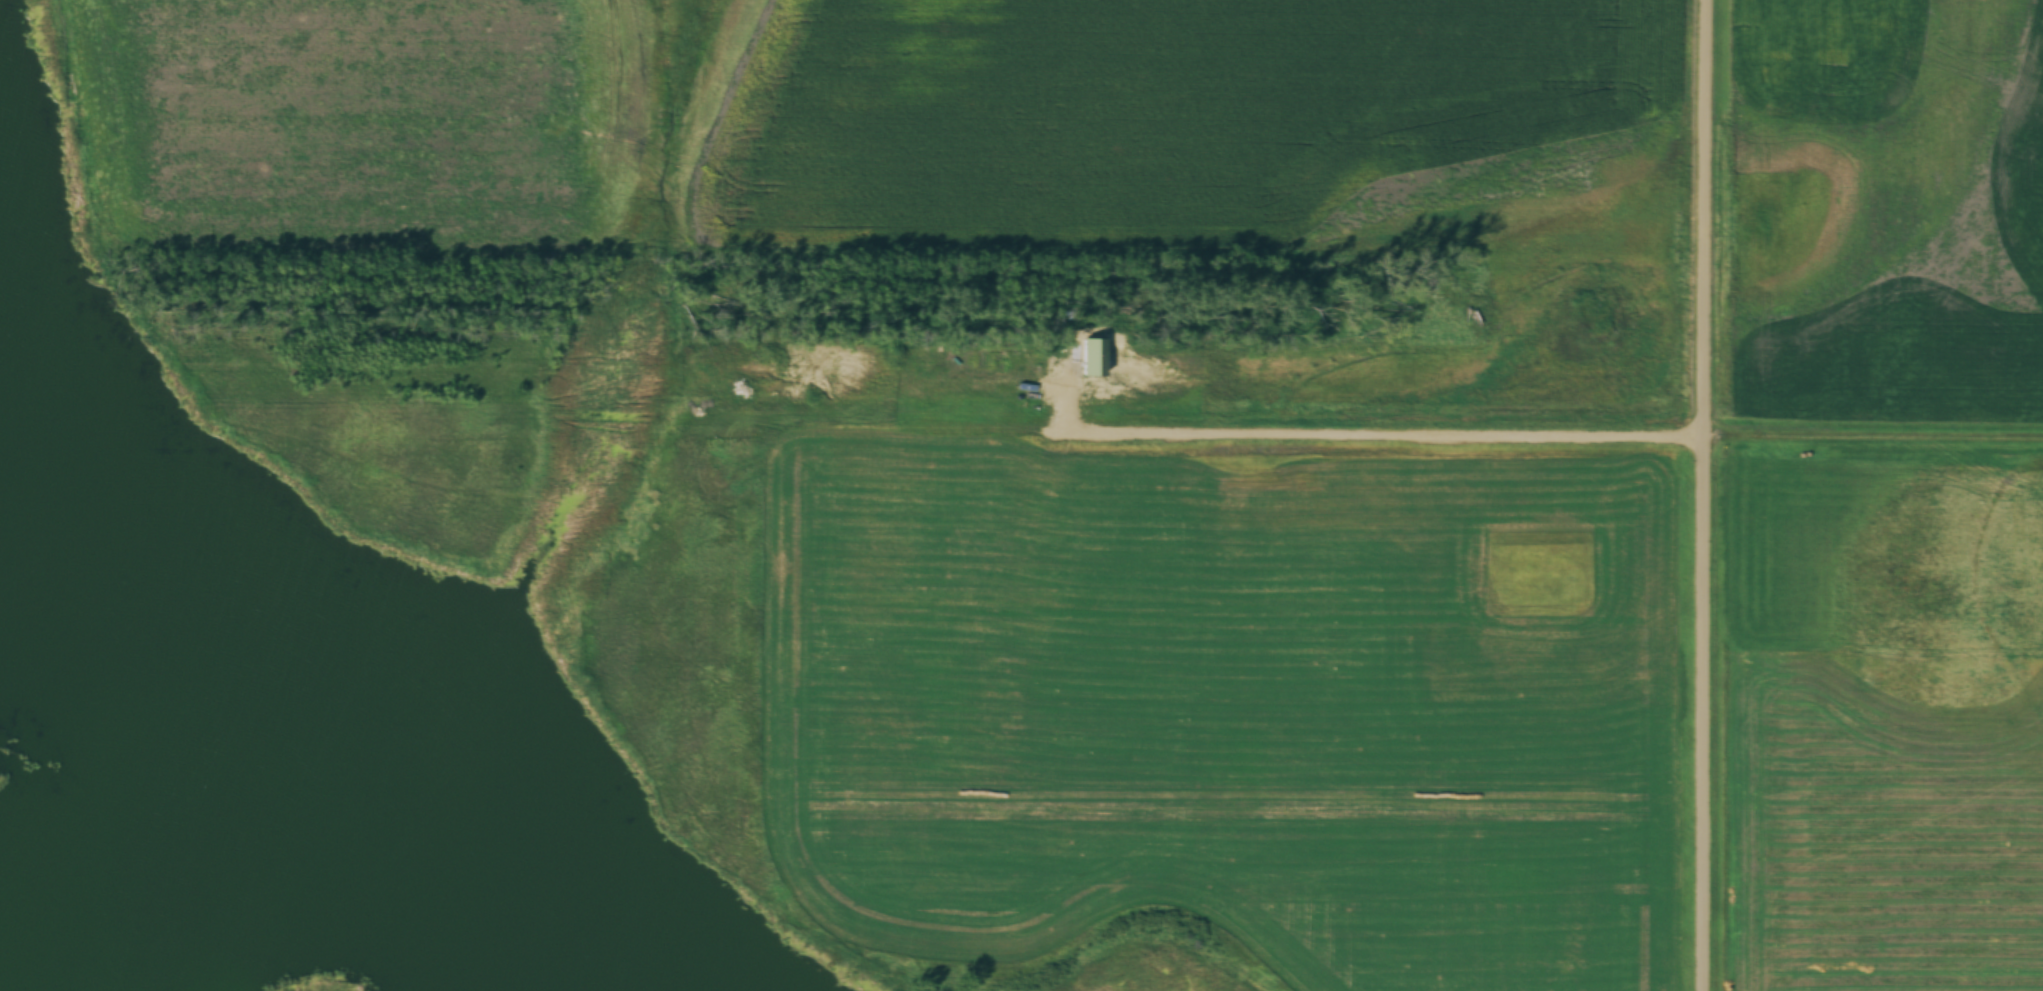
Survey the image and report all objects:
road: (1872, 455)
road: (1700, 495)

